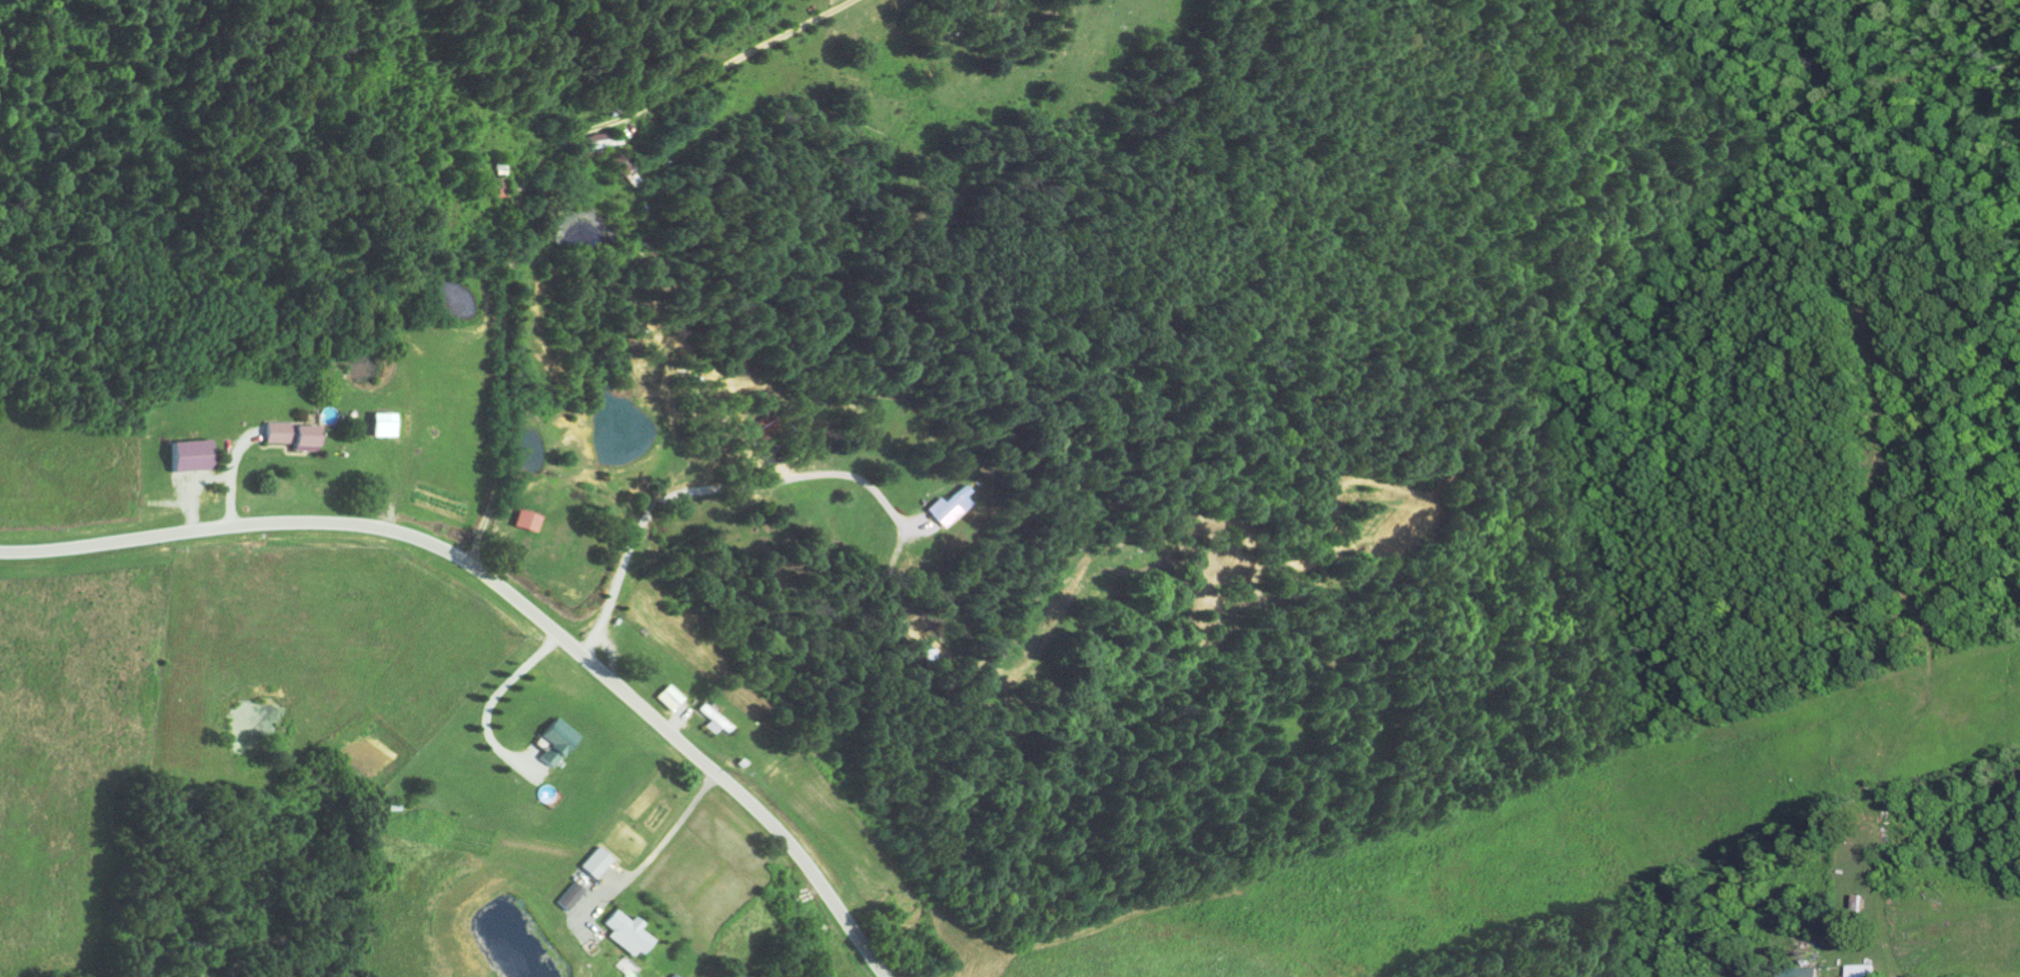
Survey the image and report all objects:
building: (505, 166)
building: (505, 187)
road: (501, 265)
building: (762, 426)
building: (296, 436)
building: (194, 456)
building: (950, 507)
building: (528, 521)
road: (590, 545)
road: (514, 597)
building: (668, 697)
building: (712, 719)
building: (560, 741)
building: (598, 862)
building: (572, 895)
building: (629, 932)
building: (1863, 970)
building: (1803, 972)

